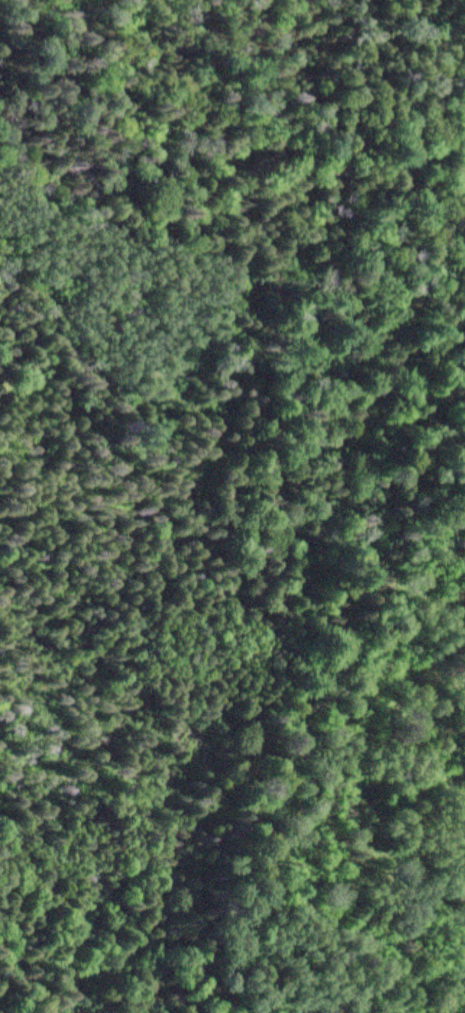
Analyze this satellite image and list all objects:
road: (309, 798)

